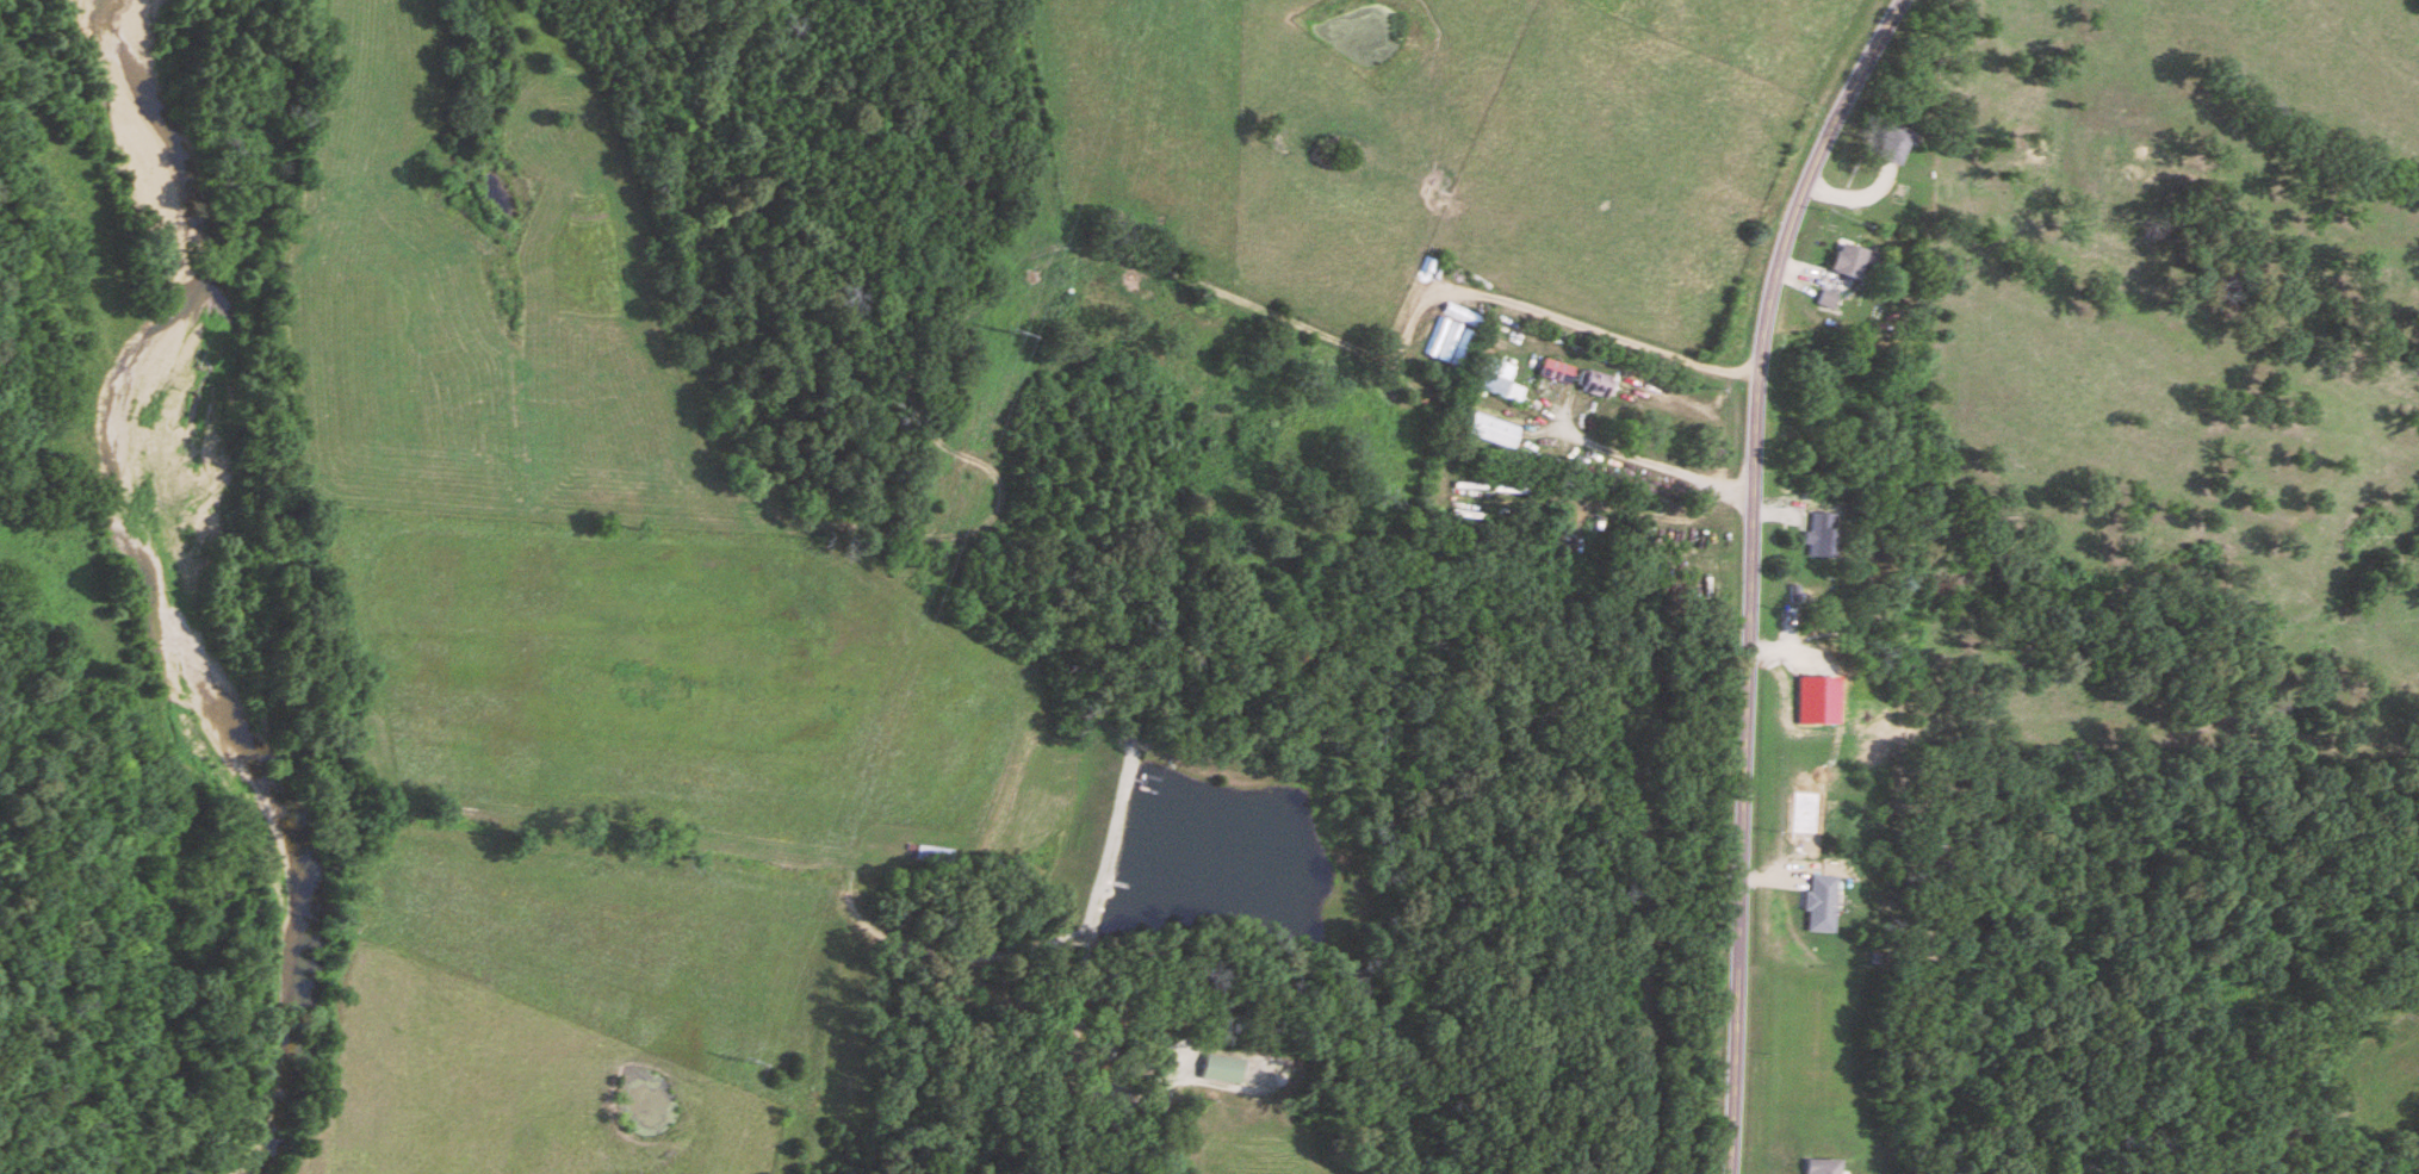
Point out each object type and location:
building: (1894, 145)
building: (1849, 262)
power tower: (1017, 341)
building: (1557, 372)
building: (1600, 385)
building: (1500, 386)
road: (1644, 461)
building: (1823, 534)
road: (1747, 571)
building: (1823, 903)
power tower: (755, 1064)
building: (1215, 1068)
road: (1109, 1117)
building: (1822, 1166)

